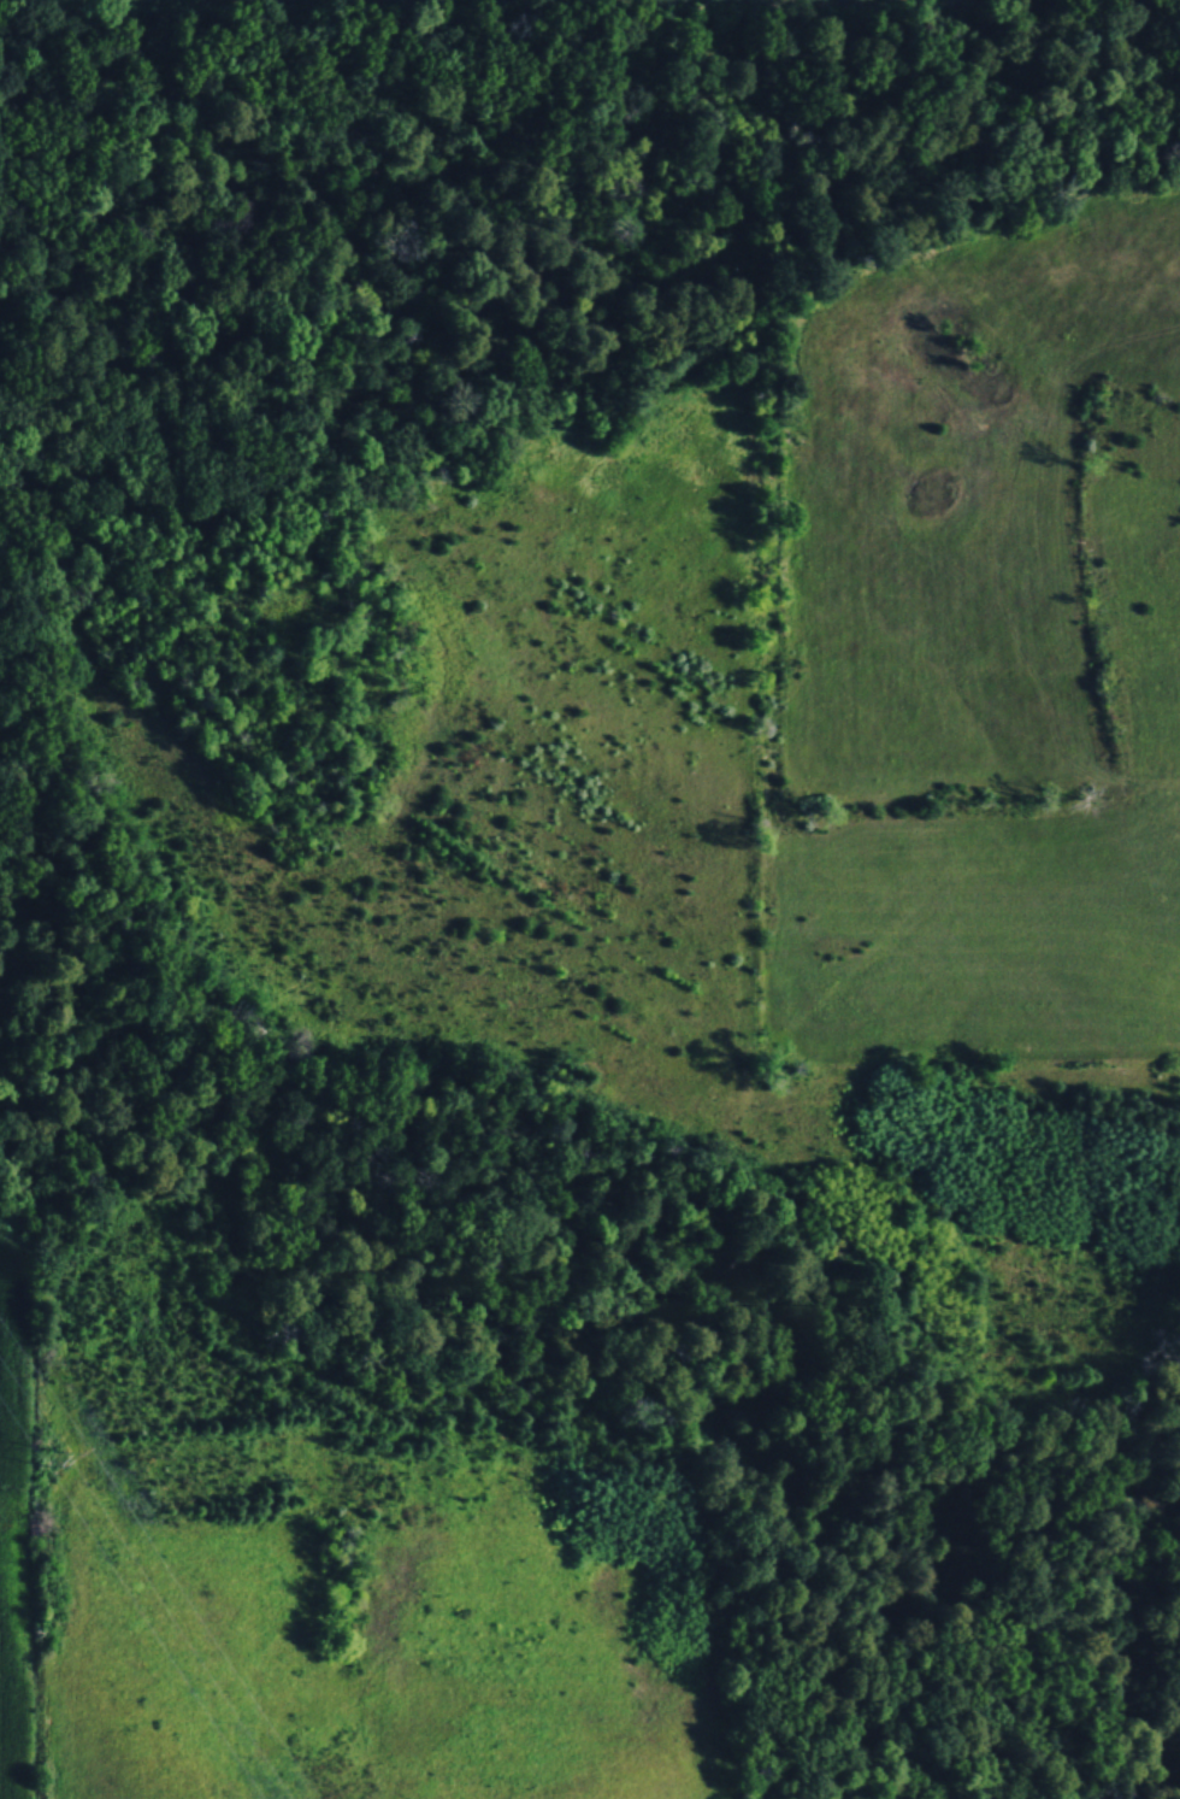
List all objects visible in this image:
power tower: (54, 1457)

